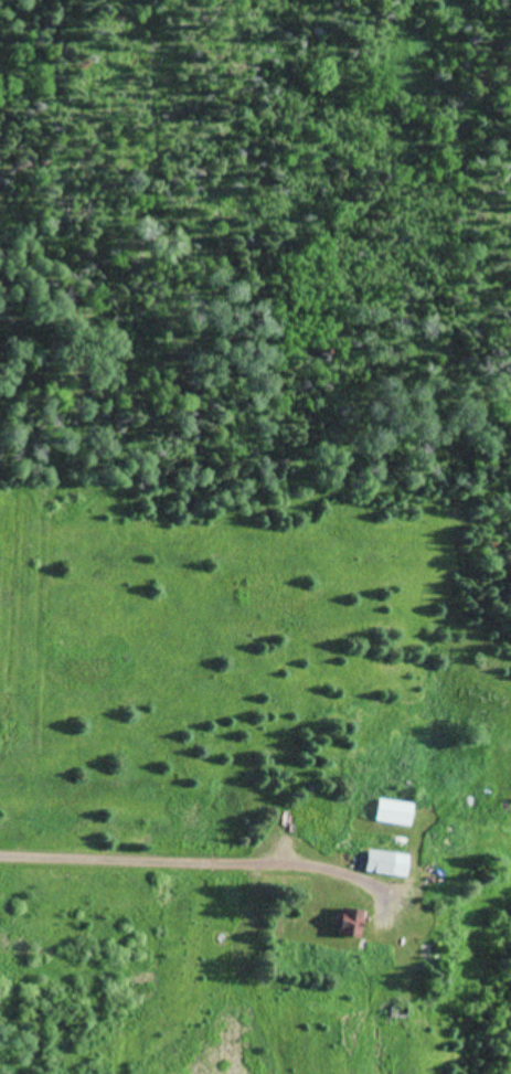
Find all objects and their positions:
building: (387, 815)
road: (168, 863)
building: (380, 864)
building: (340, 924)
building: (415, 951)

